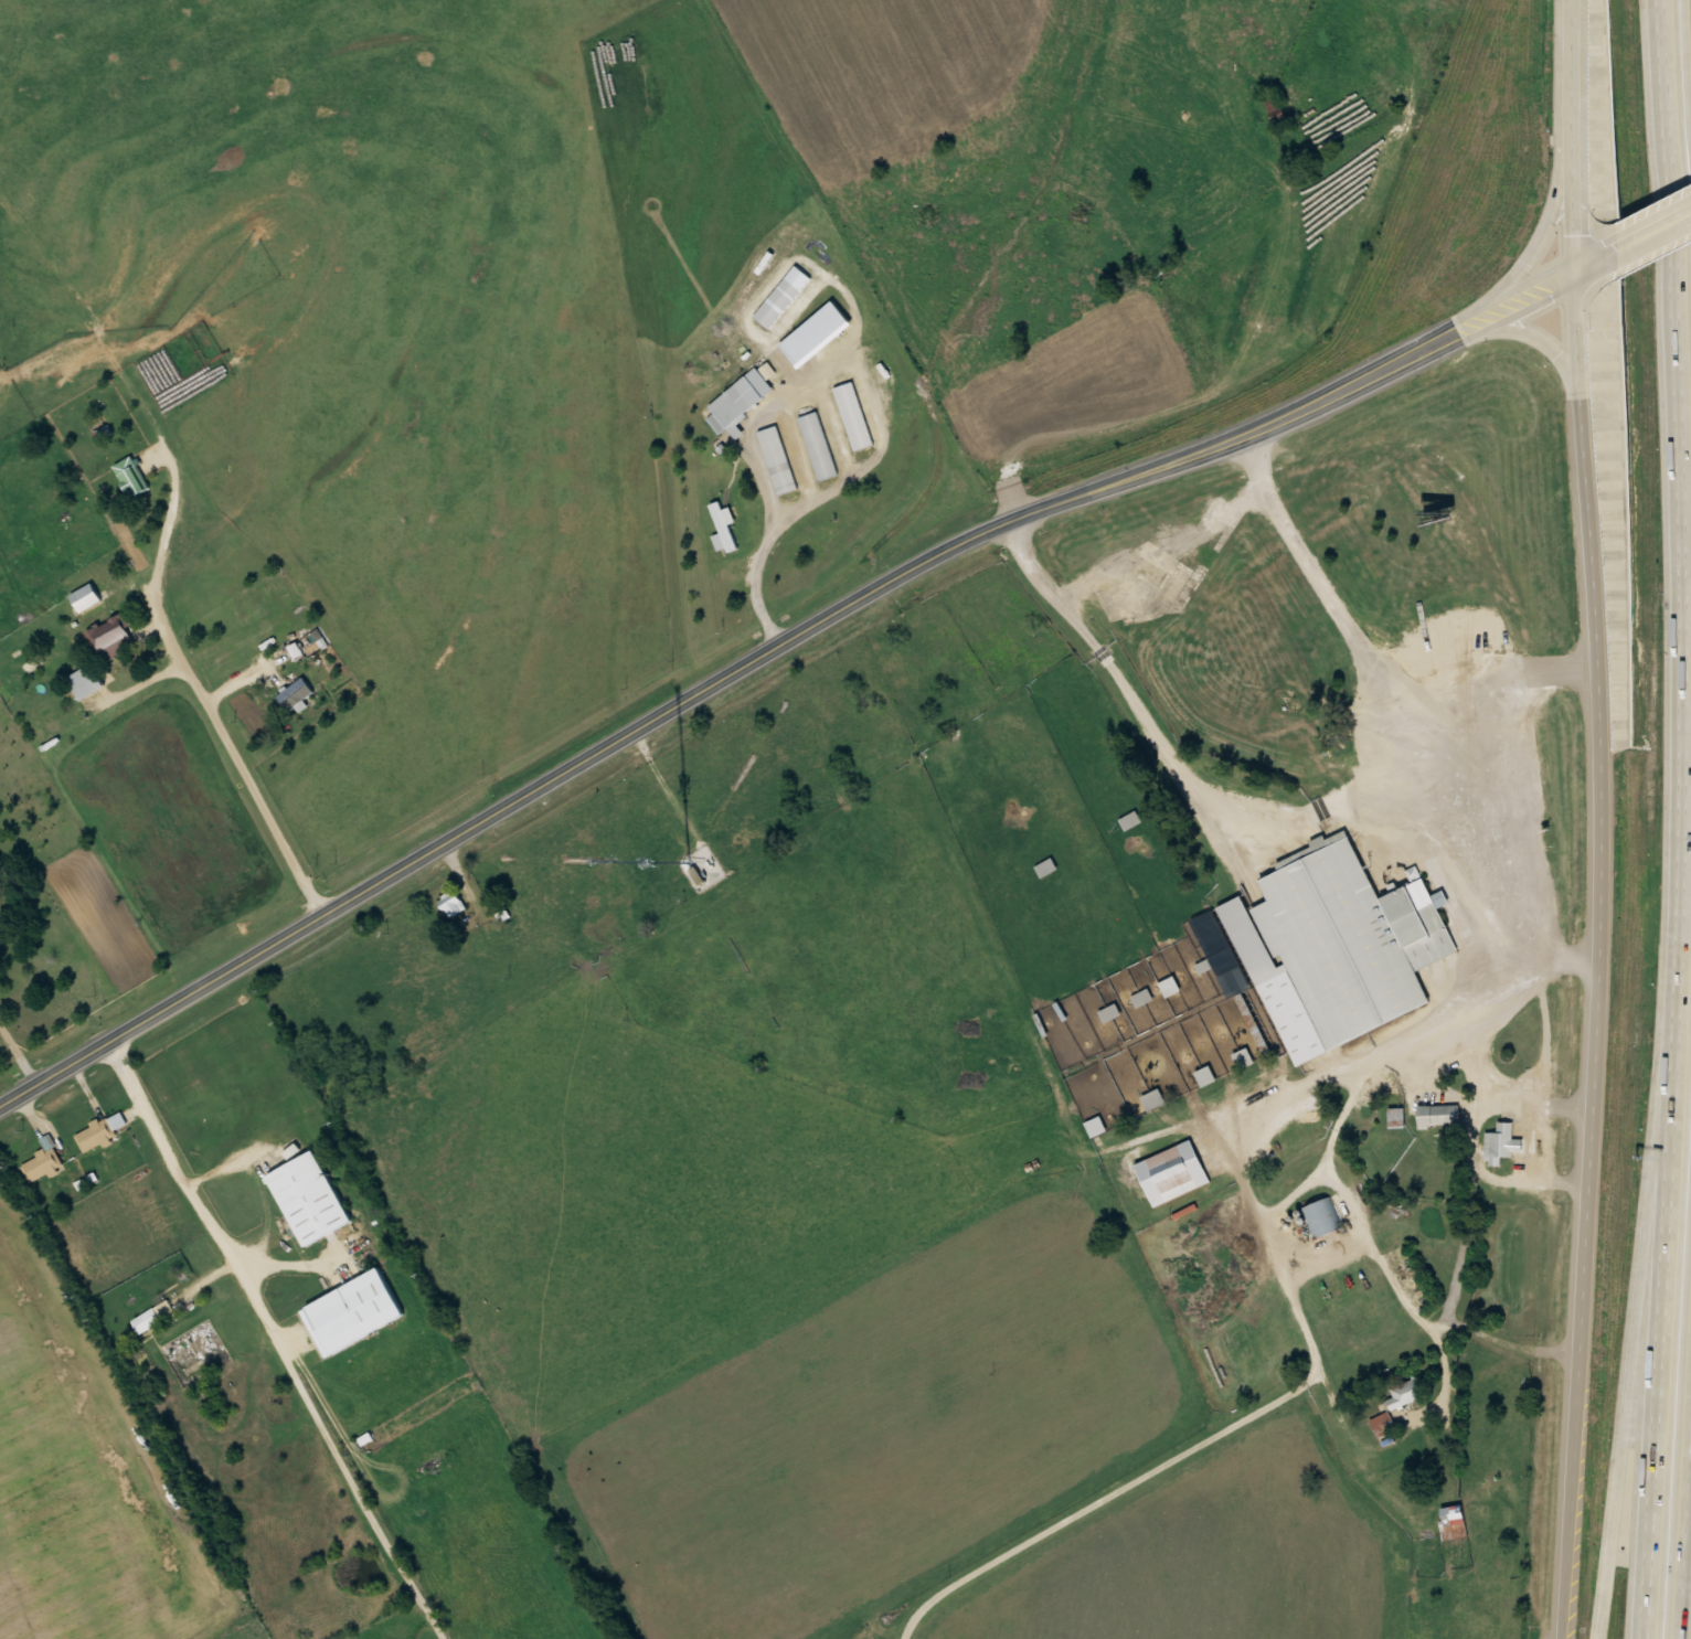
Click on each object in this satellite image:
building: (1273, 106)
road: (1559, 164)
road: (1651, 217)
road: (1655, 243)
building: (780, 297)
building: (821, 326)
road: (1540, 339)
road: (1321, 390)
building: (736, 400)
road: (1326, 407)
building: (852, 416)
building: (817, 446)
building: (776, 459)
building: (130, 478)
road: (1687, 499)
building: (722, 526)
building: (84, 597)
building: (279, 600)
building: (1483, 625)
building: (111, 639)
building: (59, 643)
road: (178, 649)
building: (85, 682)
building: (291, 691)
road: (1519, 801)
road: (507, 803)
road: (1603, 818)
building: (1129, 821)
building: (1045, 868)
building: (695, 876)
building: (453, 904)
building: (2, 934)
building: (1339, 939)
building: (1141, 998)
building: (1109, 1013)
building: (1243, 1058)
building: (1205, 1076)
building: (1153, 1099)
building: (1440, 1115)
building: (1397, 1118)
building: (95, 1135)
building: (1502, 1142)
building: (42, 1164)
building: (1172, 1172)
building: (309, 1199)
building: (1320, 1218)
building: (352, 1312)
building: (152, 1316)
road: (1638, 1318)
road: (1668, 1319)
road: (1461, 1330)
road: (276, 1337)
building: (1396, 1404)
building: (1451, 1521)
road: (1688, 1574)
building: (1488, 1582)

